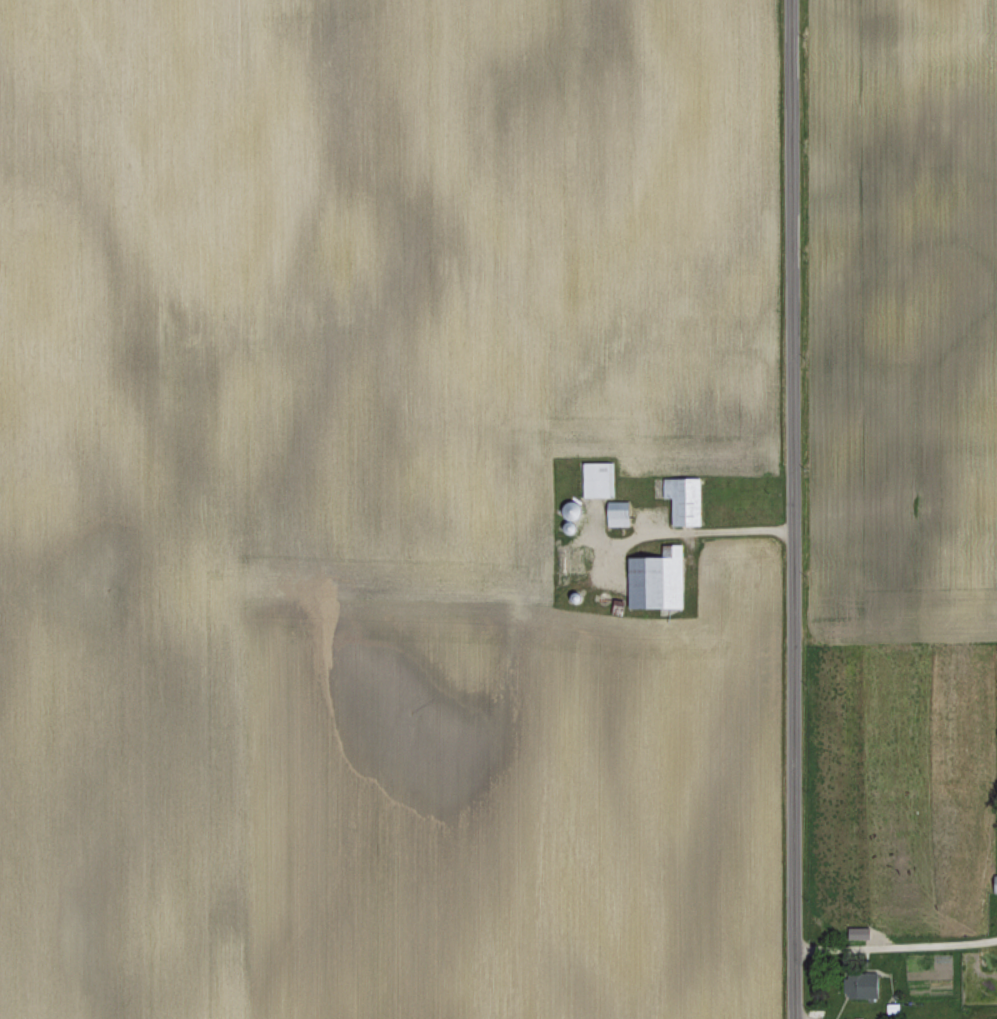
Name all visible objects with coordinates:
building: (600, 474)
building: (686, 497)
road: (791, 509)
road: (732, 530)
building: (659, 576)
building: (861, 931)
road: (895, 945)

